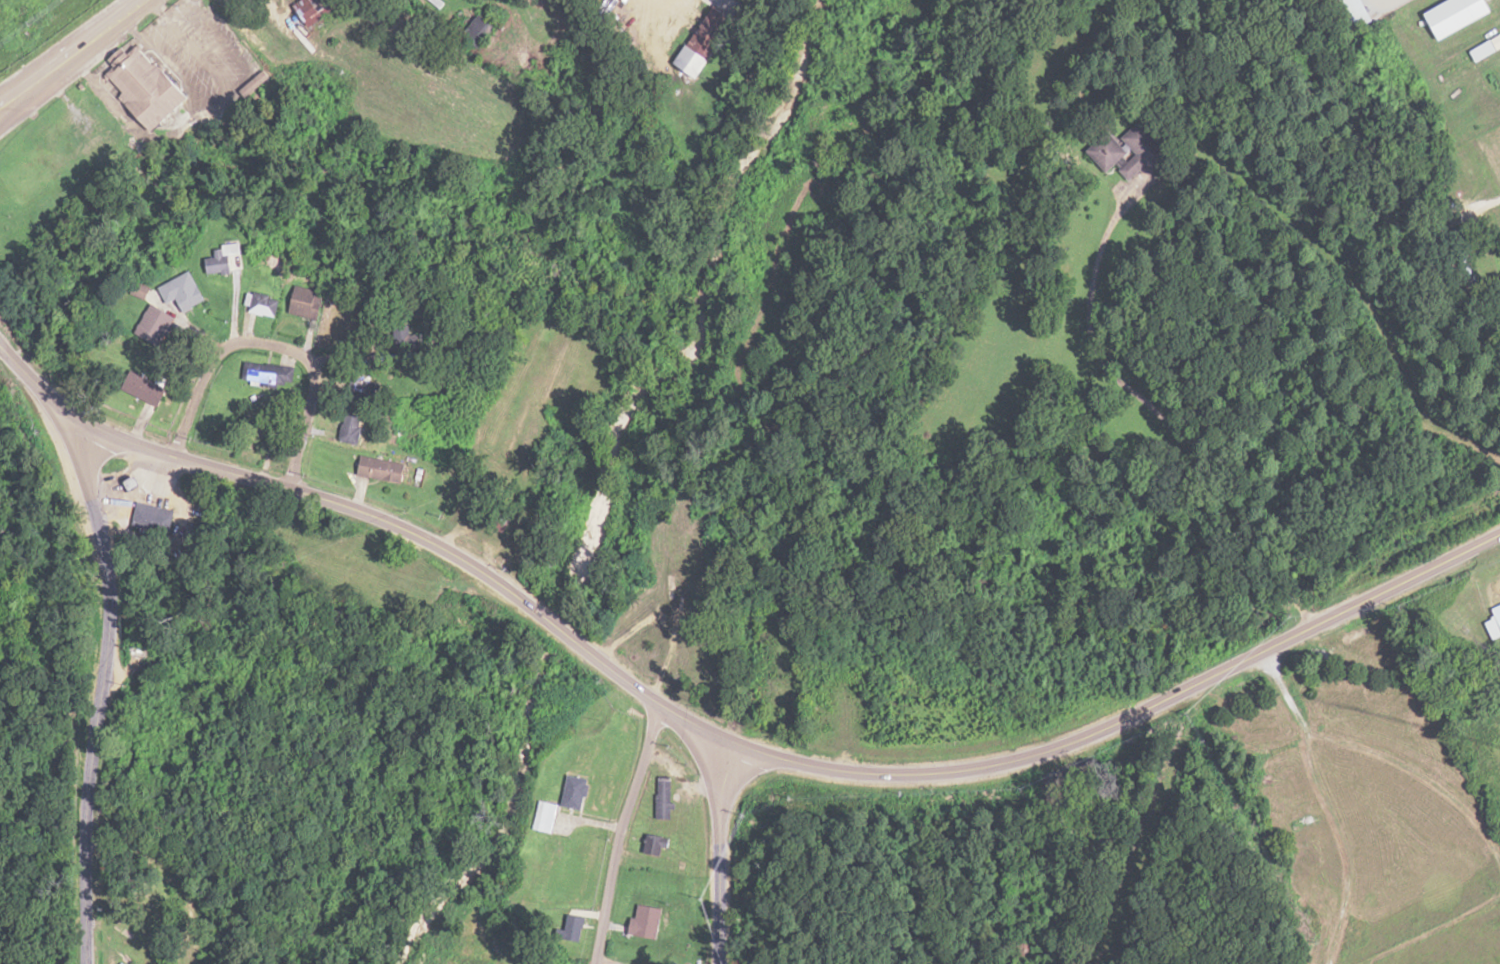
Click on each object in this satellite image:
building: (229, 8)
building: (314, 8)
building: (711, 29)
building: (479, 30)
road: (69, 56)
building: (691, 60)
building: (143, 85)
road: (13, 96)
building: (1140, 151)
building: (1107, 153)
building: (222, 260)
building: (140, 290)
building: (182, 291)
building: (308, 303)
building: (262, 304)
building: (154, 324)
road: (269, 354)
building: (269, 374)
building: (145, 387)
building: (350, 430)
building: (380, 469)
road: (333, 509)
building: (687, 572)
road: (80, 662)
road: (1126, 719)
building: (576, 792)
building: (662, 798)
road: (719, 809)
road: (615, 831)
building: (654, 844)
building: (644, 921)
building: (573, 930)

